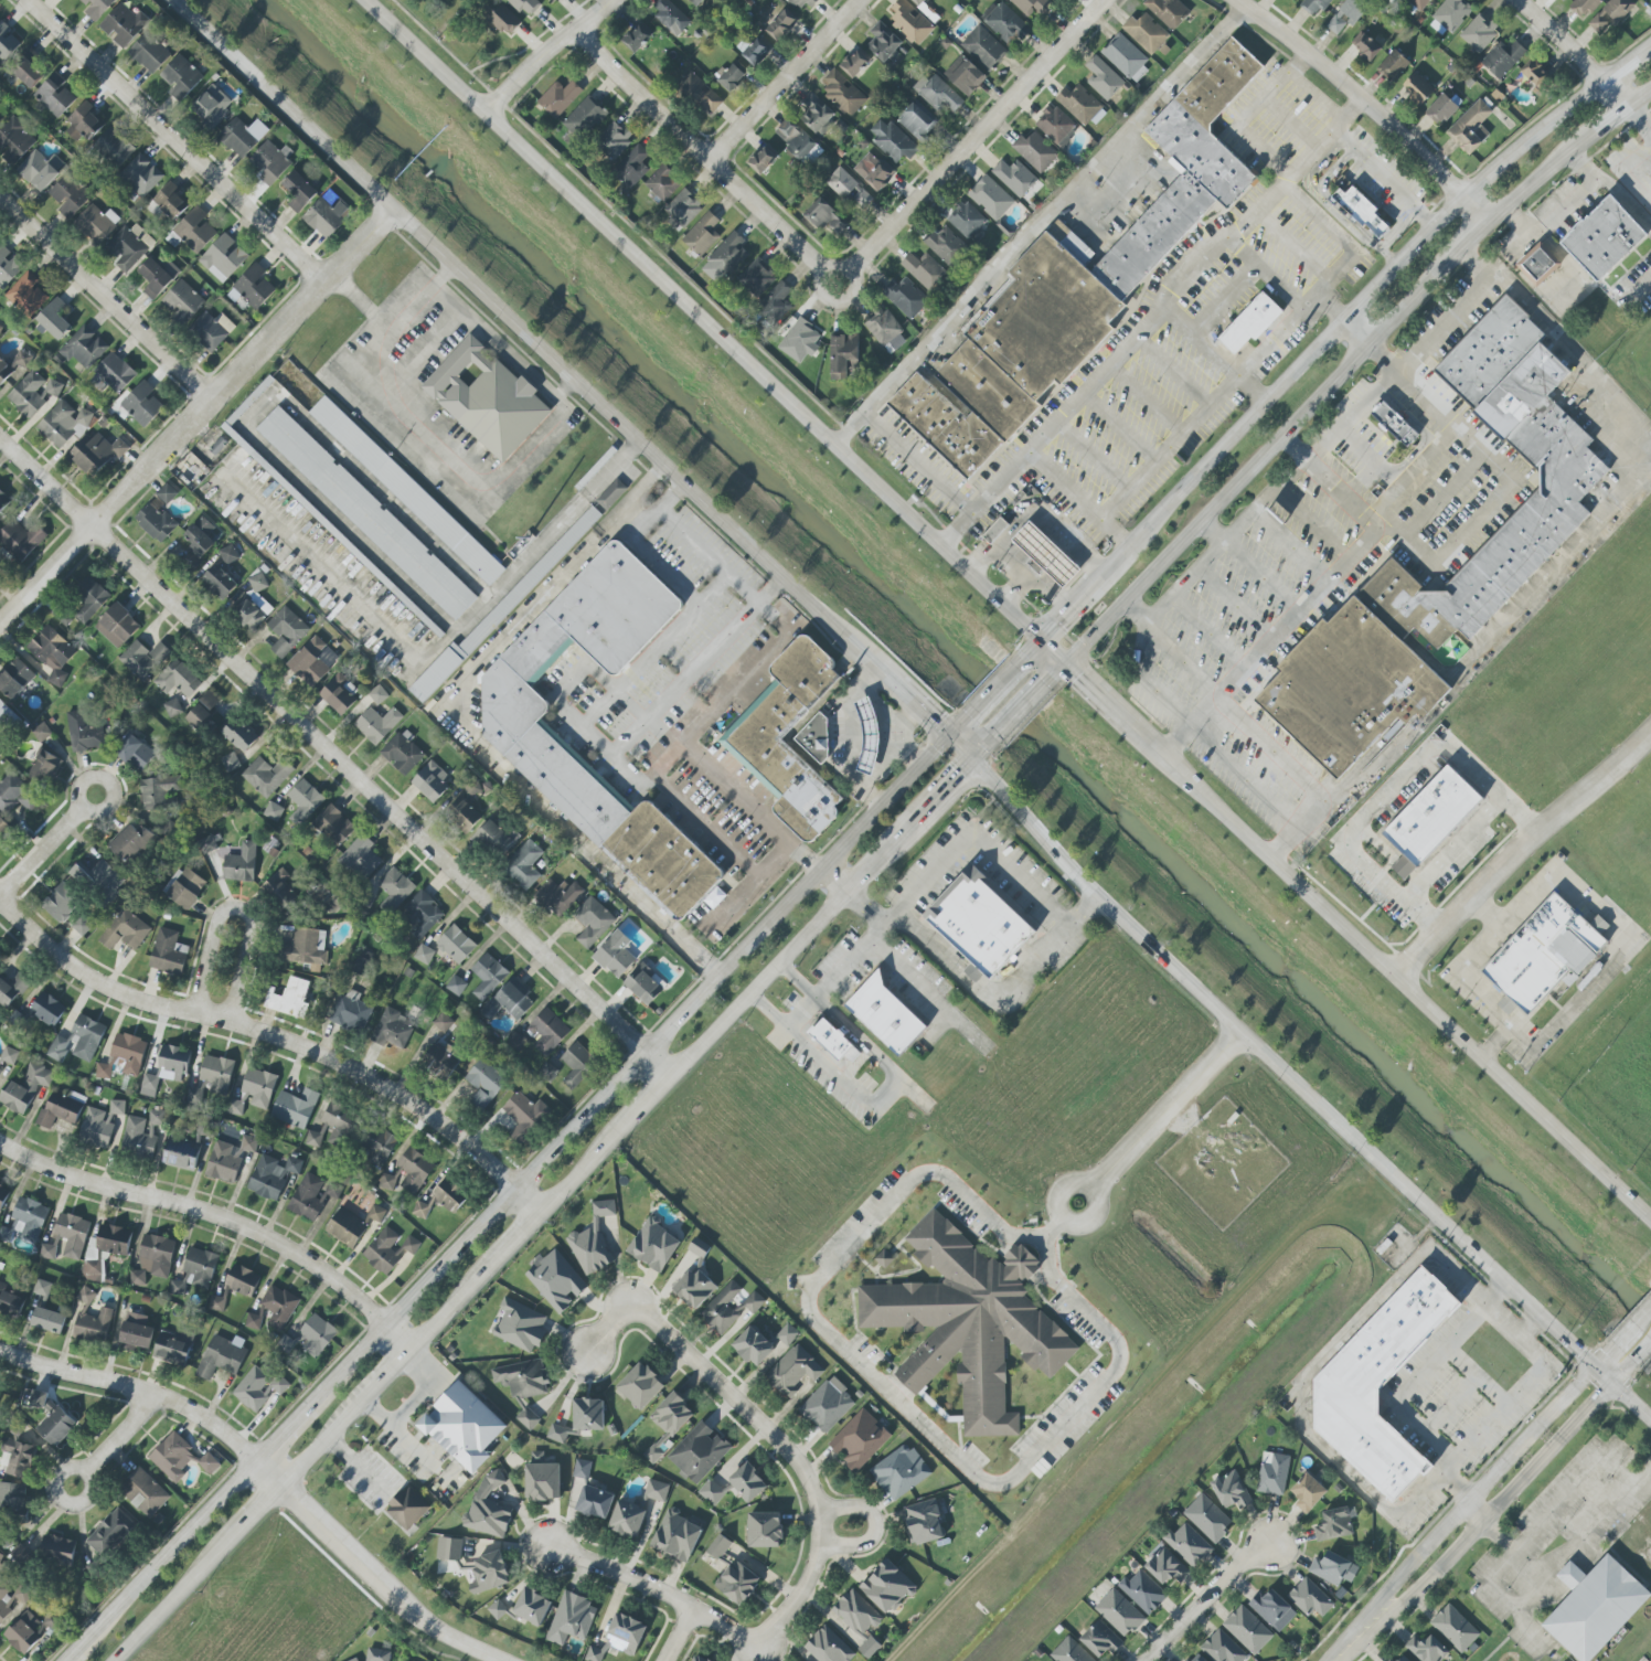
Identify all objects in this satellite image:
building: (1563, 0)
building: (548, 1)
building: (696, 2)
building: (918, 2)
building: (1419, 3)
building: (801, 4)
building: (525, 6)
building: (1032, 6)
building: (1313, 7)
building: (1583, 7)
building: (97, 8)
building: (1168, 11)
building: (1451, 14)
building: (1610, 14)
building: (1346, 15)
building: (670, 17)
building: (504, 20)
building: (910, 22)
building: (1004, 23)
building: (124, 25)
building: (780, 25)
building: (1146, 33)
building: (1479, 33)
building: (638, 36)
building: (883, 42)
building: (1366, 45)
building: (9, 46)
building: (983, 47)
building: (757, 51)
road: (1570, 52)
building: (150, 53)
road: (554, 53)
building: (1126, 57)
building: (1503, 58)
building: (855, 63)
road: (1626, 63)
road: (1303, 64)
building: (1393, 65)
building: (28, 70)
building: (1535, 74)
building: (965, 75)
building: (731, 76)
building: (181, 77)
building: (1103, 78)
road: (788, 79)
building: (1417, 88)
building: (842, 93)
road: (1312, 94)
building: (701, 95)
building: (939, 95)
road: (1258, 97)
building: (54, 98)
building: (560, 98)
road: (1371, 100)
building: (1080, 106)
building: (212, 107)
building: (1440, 109)
building: (817, 115)
building: (585, 118)
road: (1638, 119)
building: (917, 121)
building: (83, 124)
building: (1055, 126)
building: (1470, 128)
building: (242, 137)
road: (971, 138)
building: (15, 140)
building: (614, 140)
building: (892, 140)
road: (174, 141)
building: (797, 141)
building: (114, 148)
building: (1035, 151)
road: (707, 153)
building: (763, 159)
building: (269, 163)
building: (631, 167)
building: (38, 171)
building: (873, 171)
road: (1632, 174)
building: (141, 175)
road: (1382, 177)
building: (1014, 178)
building: (662, 183)
building: (848, 188)
road: (1296, 189)
building: (299, 191)
building: (68, 196)
building: (990, 198)
road: (1123, 199)
building: (169, 202)
building: (682, 210)
building: (1362, 212)
building: (327, 216)
building: (825, 217)
building: (967, 220)
road: (1044, 222)
building: (97, 223)
building: (194, 231)
building: (702, 234)
building: (1602, 239)
building: (945, 245)
building: (129, 246)
building: (728, 254)
building: (223, 258)
building: (1538, 264)
building: (8, 266)
building: (924, 269)
road: (1267, 271)
building: (155, 278)
building: (756, 279)
building: (1076, 286)
building: (252, 288)
building: (26, 295)
road: (107, 297)
road: (1224, 297)
building: (906, 298)
road: (837, 300)
building: (182, 302)
road: (1330, 302)
building: (775, 305)
road: (1155, 318)
building: (55, 319)
building: (1248, 322)
road: (394, 324)
road: (723, 326)
road: (524, 327)
building: (883, 327)
road: (1356, 328)
building: (211, 330)
building: (1, 331)
building: (800, 341)
road: (1557, 343)
building: (894, 344)
road: (1312, 345)
building: (84, 347)
road: (505, 350)
road: (1212, 354)
building: (843, 355)
building: (19, 362)
road: (1350, 362)
road: (1174, 370)
building: (2, 371)
building: (116, 373)
road: (1226, 384)
building: (33, 394)
building: (487, 398)
road: (1146, 400)
building: (142, 404)
road: (196, 415)
building: (64, 424)
building: (1394, 424)
road: (1120, 426)
road: (1297, 445)
building: (96, 455)
road: (1094, 455)
road: (1308, 459)
road: (922, 460)
building: (1569, 481)
building: (407, 491)
building: (167, 493)
building: (611, 493)
road: (1079, 497)
building: (3, 500)
building: (366, 513)
road: (1037, 513)
road: (645, 519)
building: (156, 523)
road: (1215, 529)
building: (995, 531)
road: (552, 533)
building: (21, 540)
road: (1408, 540)
building: (199, 541)
building: (228, 554)
building: (1046, 554)
road: (1561, 565)
road: (1029, 581)
building: (219, 582)
building: (258, 582)
road: (720, 583)
road: (744, 586)
road: (1016, 587)
building: (90, 599)
building: (252, 610)
building: (497, 614)
traffic signals: (1057, 618)
building: (117, 626)
building: (286, 631)
road: (1038, 639)
road: (715, 645)
building: (52, 653)
building: (143, 659)
building: (313, 661)
road: (1061, 661)
traffic signals: (1084, 672)
building: (15, 679)
building: (181, 681)
road: (565, 681)
road: (998, 683)
traffic signals: (1042, 683)
building: (1350, 688)
road: (1104, 691)
building: (339, 693)
building: (377, 694)
road: (912, 696)
road: (1018, 707)
building: (173, 709)
building: (203, 712)
building: (780, 712)
building: (4, 713)
traffic signals: (970, 716)
traffic signals: (936, 722)
building: (377, 724)
road: (958, 730)
road: (470, 731)
building: (514, 732)
building: (42, 733)
building: (84, 733)
road: (1201, 734)
building: (239, 735)
building: (869, 736)
building: (814, 738)
road: (961, 748)
building: (136, 753)
building: (403, 753)
road: (976, 754)
road: (335, 757)
building: (230, 763)
road: (1376, 765)
building: (44, 768)
road: (1476, 773)
traffic signals: (957, 775)
building: (266, 776)
building: (430, 782)
building: (471, 787)
road: (79, 792)
building: (160, 792)
building: (15, 795)
road: (937, 795)
building: (305, 801)
building: (273, 811)
road: (1370, 812)
building: (464, 814)
building: (1431, 816)
building: (333, 826)
building: (3, 830)
building: (494, 839)
road: (960, 840)
building: (131, 843)
road: (1451, 844)
building: (206, 845)
road: (1270, 848)
road: (1521, 850)
road: (42, 851)
building: (361, 858)
building: (241, 864)
building: (524, 864)
building: (98, 879)
building: (185, 887)
building: (394, 891)
building: (279, 893)
building: (558, 896)
building: (62, 903)
road: (1487, 911)
road: (237, 912)
building: (422, 915)
building: (592, 922)
building: (980, 924)
building: (83, 925)
building: (126, 930)
building: (456, 945)
building: (307, 948)
building: (0, 952)
building: (169, 952)
building: (424, 954)
building: (1543, 954)
building: (616, 955)
road: (844, 957)
building: (359, 962)
road: (906, 973)
building: (488, 977)
building: (643, 984)
building: (456, 986)
building: (12, 990)
road: (981, 990)
building: (291, 999)
building: (509, 1001)
building: (47, 1010)
building: (351, 1012)
building: (884, 1014)
building: (443, 1023)
building: (387, 1028)
building: (548, 1031)
road: (280, 1037)
building: (831, 1040)
building: (78, 1041)
building: (518, 1041)
road: (1494, 1043)
road: (1530, 1046)
building: (9, 1056)
building: (124, 1056)
building: (443, 1057)
building: (173, 1064)
building: (577, 1065)
road: (1279, 1066)
road: (631, 1073)
building: (213, 1077)
building: (484, 1083)
building: (149, 1085)
building: (25, 1088)
building: (255, 1092)
road: (883, 1095)
road: (1521, 1095)
building: (296, 1108)
road: (1167, 1109)
building: (58, 1111)
building: (525, 1116)
building: (100, 1124)
building: (333, 1125)
building: (141, 1135)
building: (377, 1146)
building: (181, 1154)
road: (593, 1158)
building: (228, 1159)
building: (408, 1173)
building: (271, 1176)
building: (3, 1195)
building: (313, 1195)
building: (441, 1199)
road: (1056, 1204)
building: (376, 1213)
road: (220, 1220)
building: (25, 1221)
building: (347, 1228)
building: (67, 1237)
building: (114, 1239)
building: (593, 1242)
building: (654, 1246)
building: (388, 1250)
building: (885, 1258)
building: (153, 1259)
building: (93, 1265)
building: (196, 1270)
building: (695, 1279)
building: (243, 1280)
building: (556, 1281)
building: (42, 1289)
building: (86, 1296)
building: (10, 1302)
building: (754, 1302)
building: (216, 1305)
building: (279, 1307)
building: (722, 1309)
building: (49, 1320)
road: (1503, 1320)
building: (253, 1322)
building: (968, 1322)
building: (520, 1325)
building: (94, 1328)
road: (1630, 1328)
building: (137, 1332)
building: (787, 1334)
building: (316, 1335)
building: (754, 1346)
building: (172, 1350)
road: (1639, 1355)
building: (222, 1356)
road: (1601, 1360)
building: (793, 1371)
road: (1602, 1376)
road: (1619, 1376)
building: (523, 1377)
building: (1378, 1385)
building: (641, 1386)
building: (258, 1388)
road: (1517, 1391)
road: (1399, 1392)
road: (1631, 1404)
building: (828, 1406)
road: (906, 1407)
building: (588, 1414)
building: (672, 1415)
building: (528, 1418)
building: (53, 1420)
building: (464, 1427)
road: (769, 1433)
building: (557, 1434)
road: (119, 1436)
road: (287, 1436)
building: (860, 1440)
building: (699, 1452)
building: (654, 1455)
building: (172, 1457)
building: (20, 1458)
building: (209, 1463)
building: (582, 1469)
road: (268, 1470)
building: (899, 1472)
building: (1272, 1473)
building: (542, 1480)
building: (747, 1482)
road: (88, 1484)
building: (657, 1491)
building: (1231, 1491)
building: (712, 1492)
building: (1308, 1492)
building: (146, 1494)
building: (13, 1499)
building: (595, 1502)
building: (488, 1508)
building: (407, 1509)
road: (256, 1511)
road: (1444, 1512)
road: (1460, 1513)
building: (1207, 1519)
building: (627, 1520)
building: (924, 1522)
building: (1335, 1524)
road: (1478, 1525)
road: (876, 1529)
building: (765, 1530)
building: (111, 1533)
building: (677, 1536)
building: (1189, 1545)
building: (718, 1547)
building: (449, 1548)
building: (58, 1550)
road: (1567, 1552)
building: (21, 1555)
road: (171, 1557)
building: (1, 1561)
building: (1168, 1567)
building: (96, 1569)
building: (1333, 1569)
building: (489, 1573)
building: (737, 1583)
building: (887, 1586)
road: (657, 1590)
building: (1143, 1591)
building: (11, 1597)
building: (1310, 1598)
road: (173, 1599)
road: (1208, 1599)
building: (532, 1607)
building: (498, 1609)
building: (1596, 1609)
building: (1272, 1610)
building: (856, 1614)
building: (1119, 1614)
building: (572, 1619)
building: (1455, 1628)
building: (1247, 1630)
building: (29, 1631)
road: (679, 1636)
building: (619, 1638)
building: (1100, 1640)
building: (828, 1647)
building: (869, 1648)
building: (1223, 1648)
building: (1426, 1649)
building: (1071, 1652)
building: (377, 1654)
road: (77, 1657)
building: (1196, 1658)
building: (697, 1659)
building: (1403, 1659)
building: (355, 1660)
building: (1388, 1660)
building: (1650, 1660)

